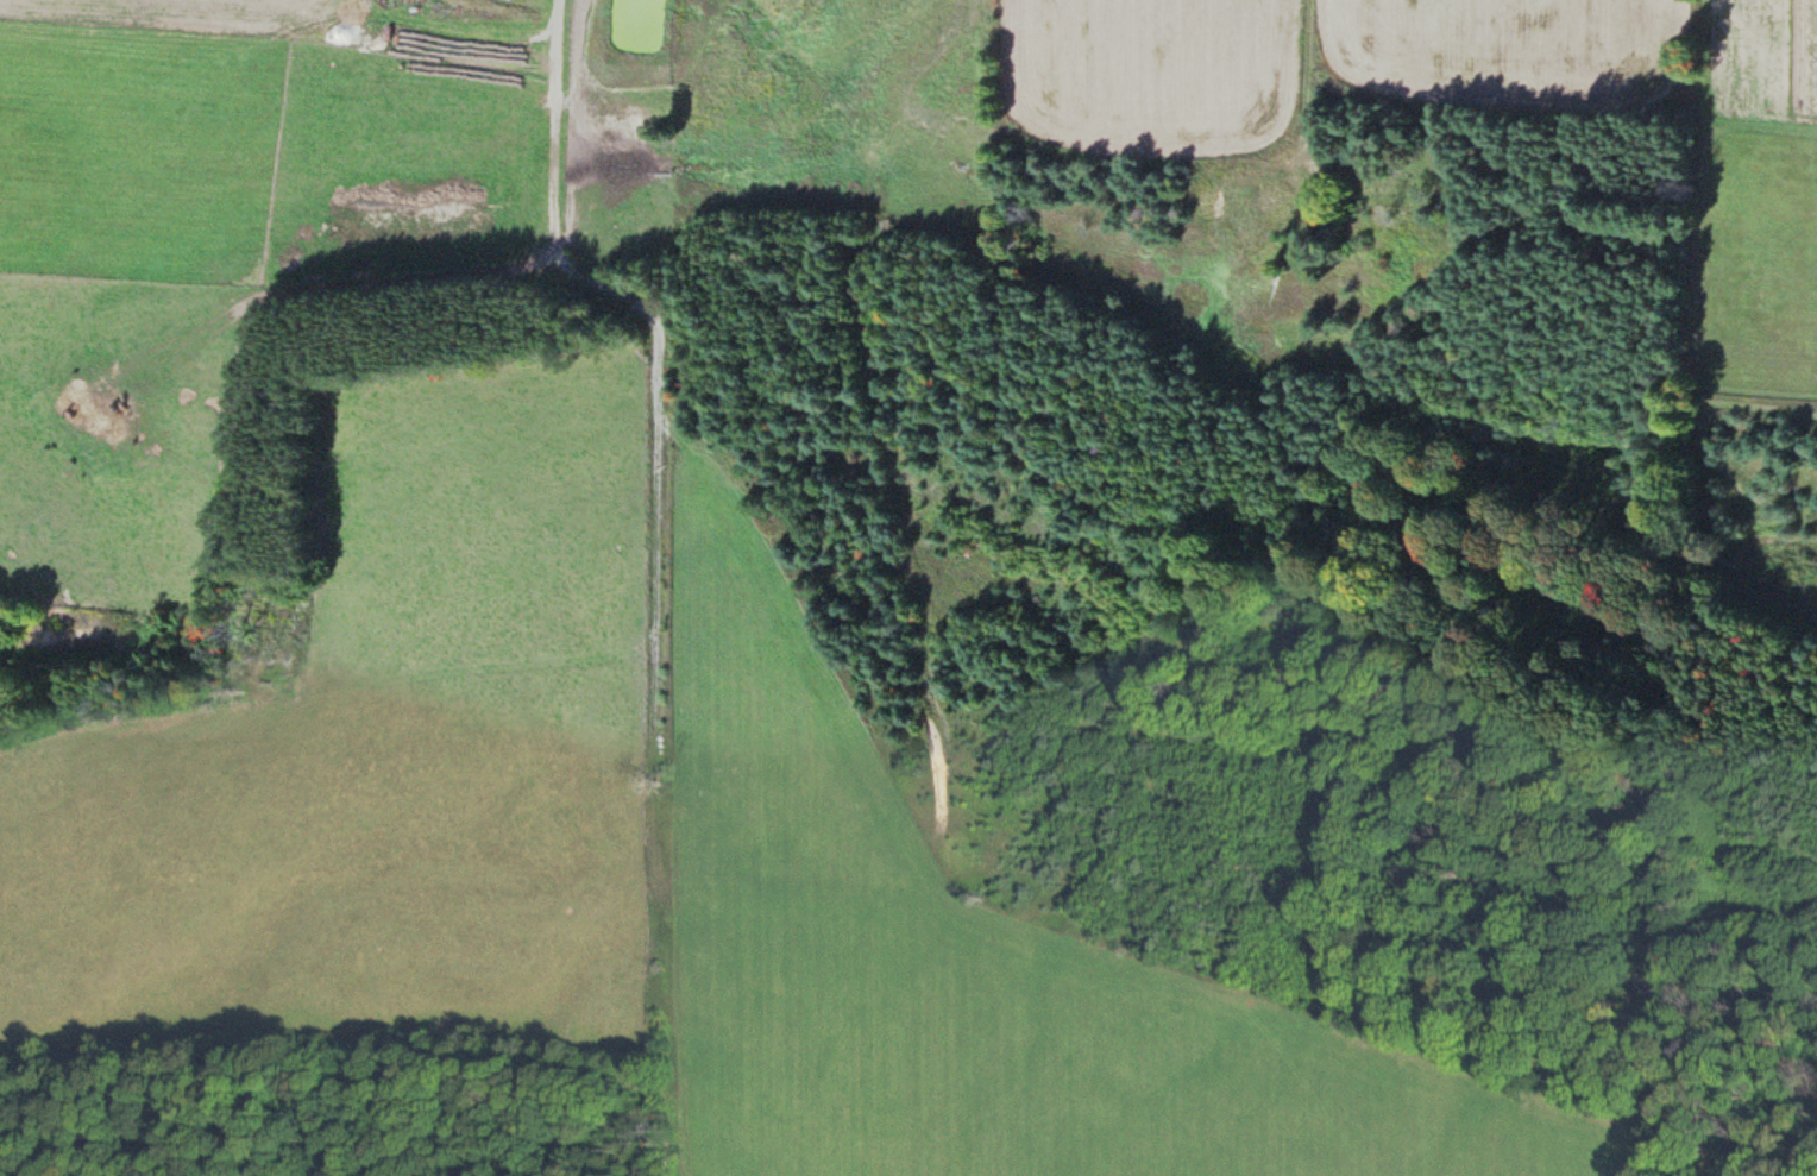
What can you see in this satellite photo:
road: (1304, 105)
building: (1243, 193)

